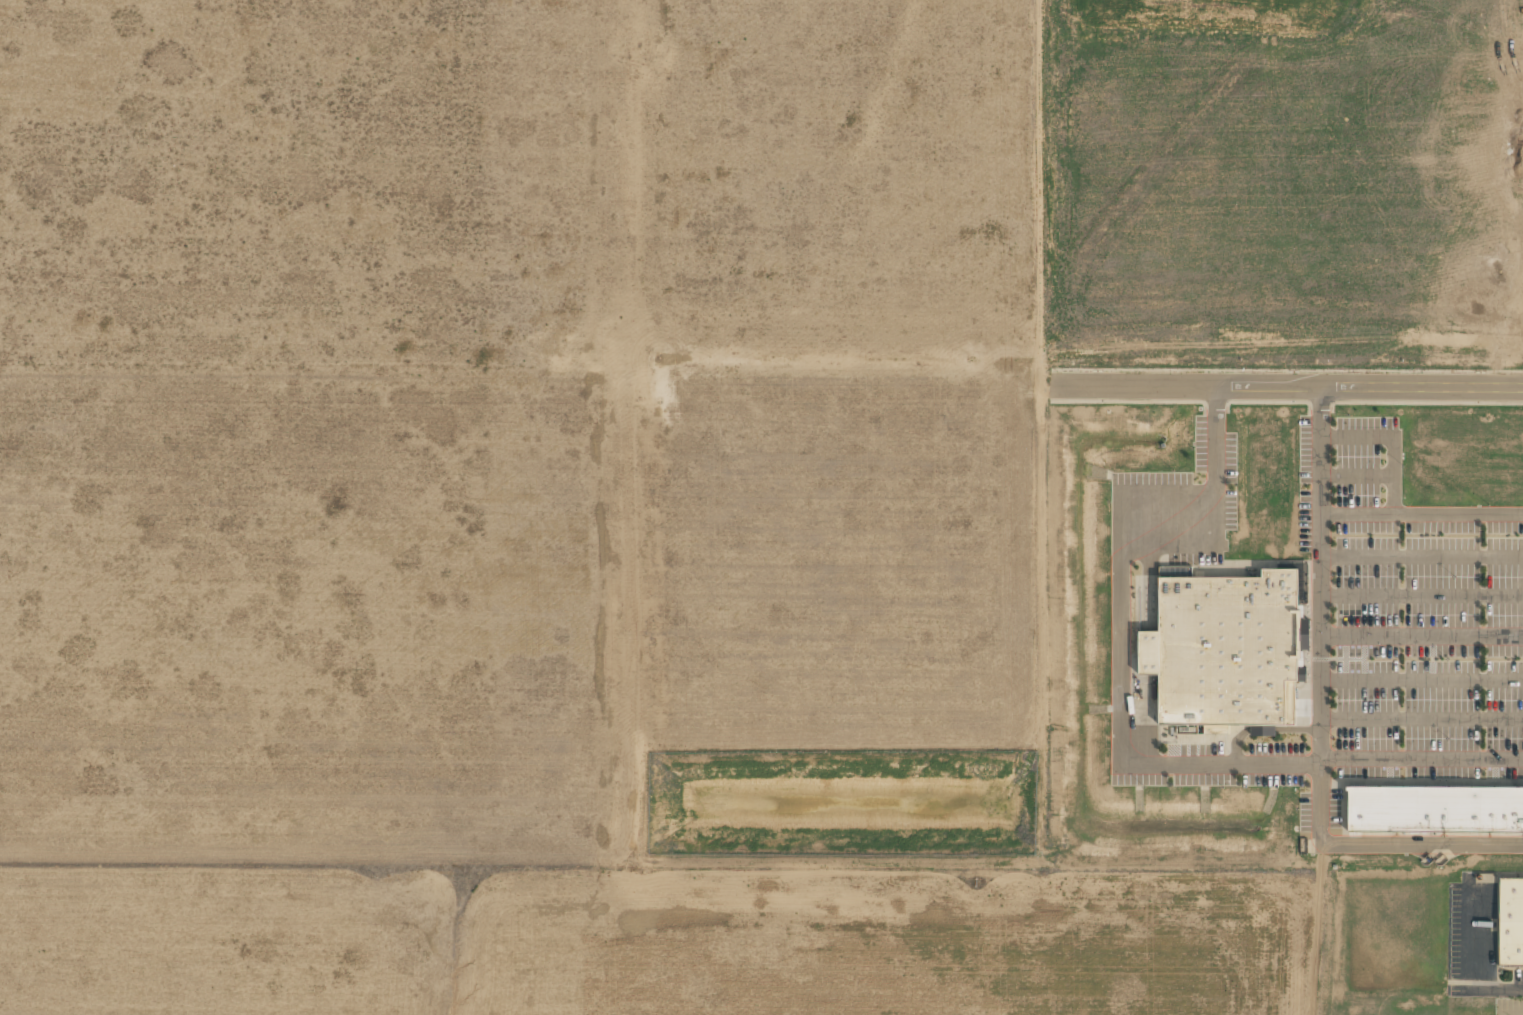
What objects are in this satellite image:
road: (1288, 385)
building: (1221, 653)
building: (1435, 809)
building: (1510, 922)

